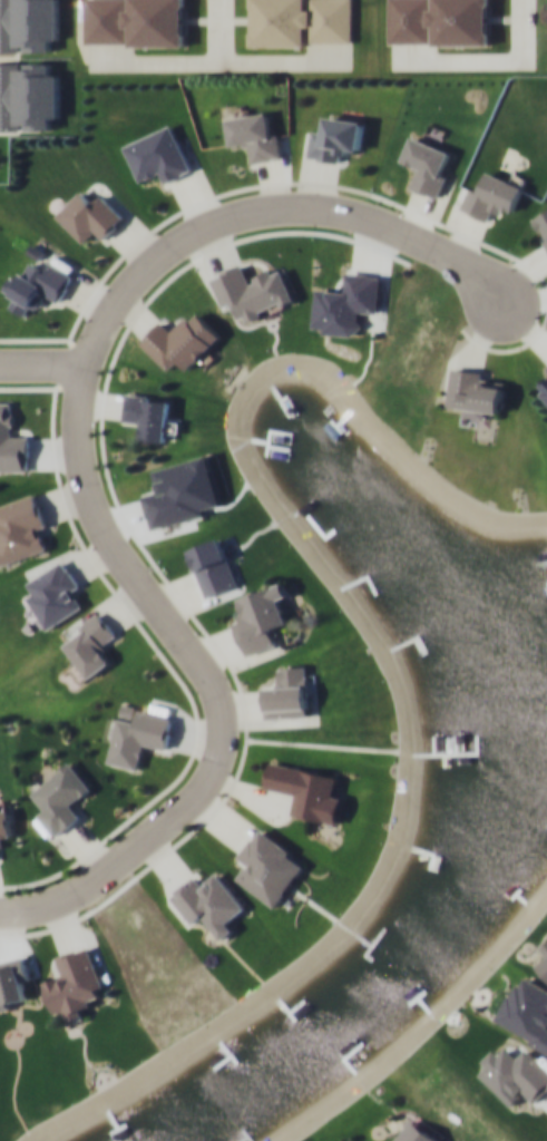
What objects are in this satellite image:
building: (136, 21)
building: (302, 21)
building: (439, 21)
building: (28, 25)
road: (521, 27)
road: (218, 30)
building: (28, 95)
building: (255, 134)
building: (336, 138)
building: (158, 154)
building: (428, 165)
building: (492, 196)
building: (90, 215)
building: (543, 224)
building: (39, 286)
building: (253, 290)
building: (183, 340)
road: (42, 363)
building: (546, 370)
building: (545, 387)
building: (476, 389)
building: (148, 415)
road: (79, 459)
building: (20, 527)
building: (213, 567)
building: (56, 593)
building: (263, 616)
building: (91, 643)
building: (289, 693)
building: (139, 733)
building: (307, 790)
building: (62, 797)
building: (4, 825)
building: (0, 858)
building: (270, 866)
building: (211, 901)
building: (545, 963)
building: (13, 981)
building: (76, 982)
building: (526, 1012)
building: (420, 1132)

